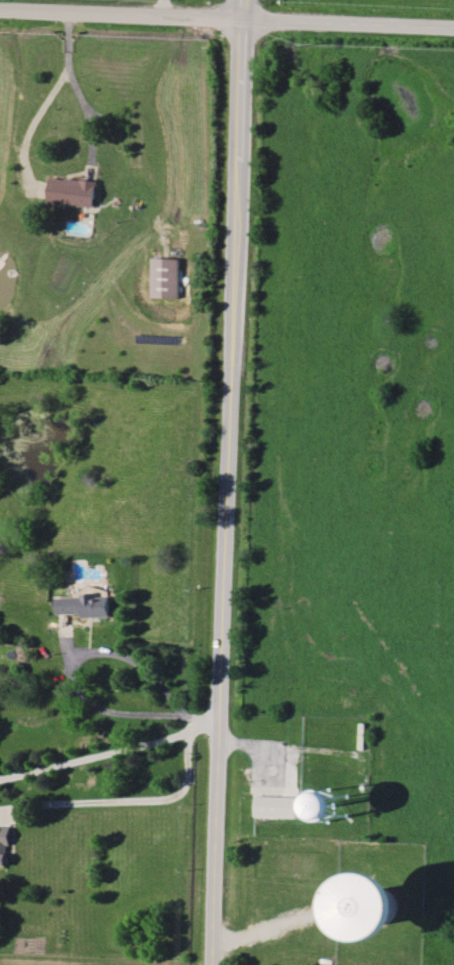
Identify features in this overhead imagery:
road: (247, 10)
road: (226, 20)
road: (76, 94)
road: (32, 122)
building: (72, 192)
building: (165, 277)
road: (230, 493)
building: (85, 605)
road: (77, 672)
road: (113, 740)
road: (124, 790)
building: (334, 805)
building: (277, 806)
building: (4, 845)
building: (379, 906)

